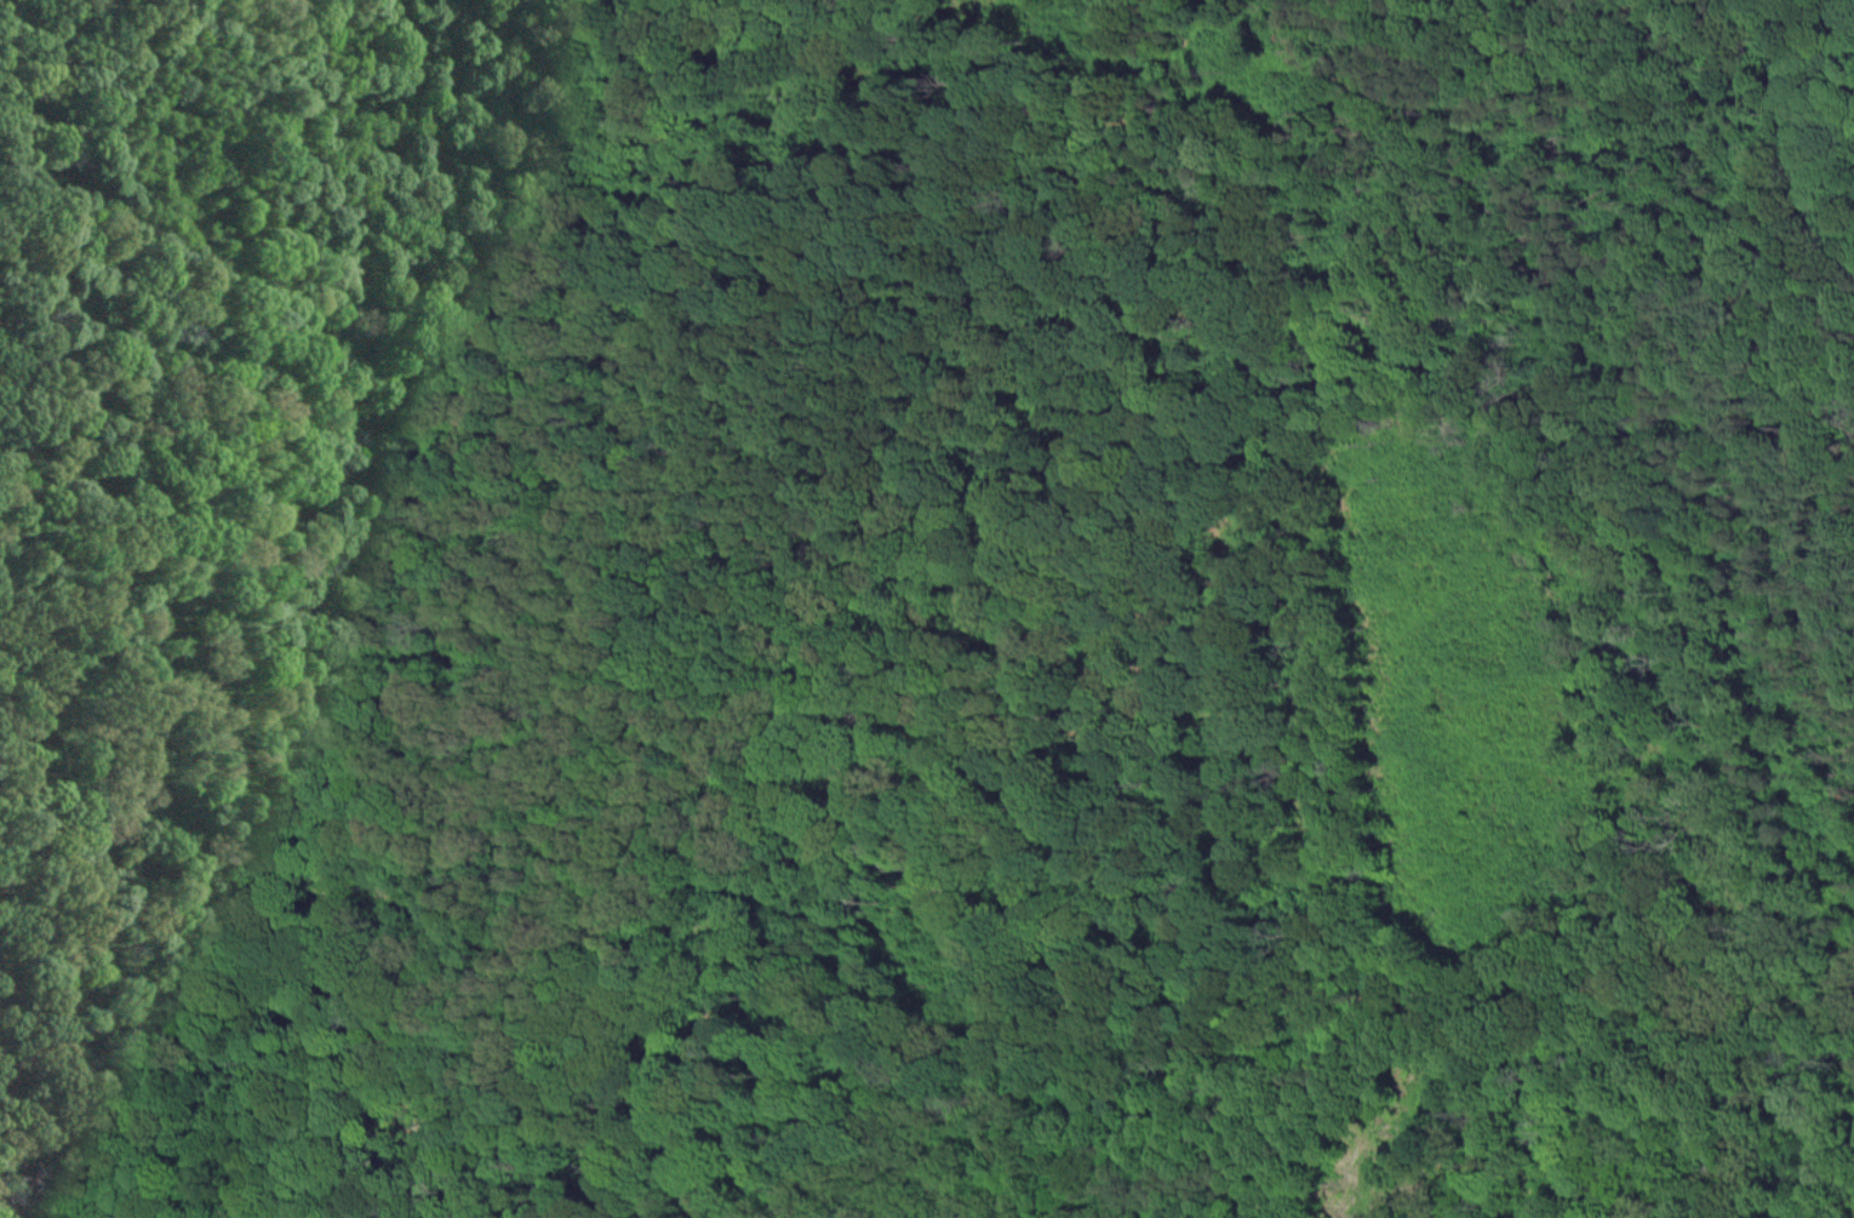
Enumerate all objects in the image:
road: (1326, 994)

